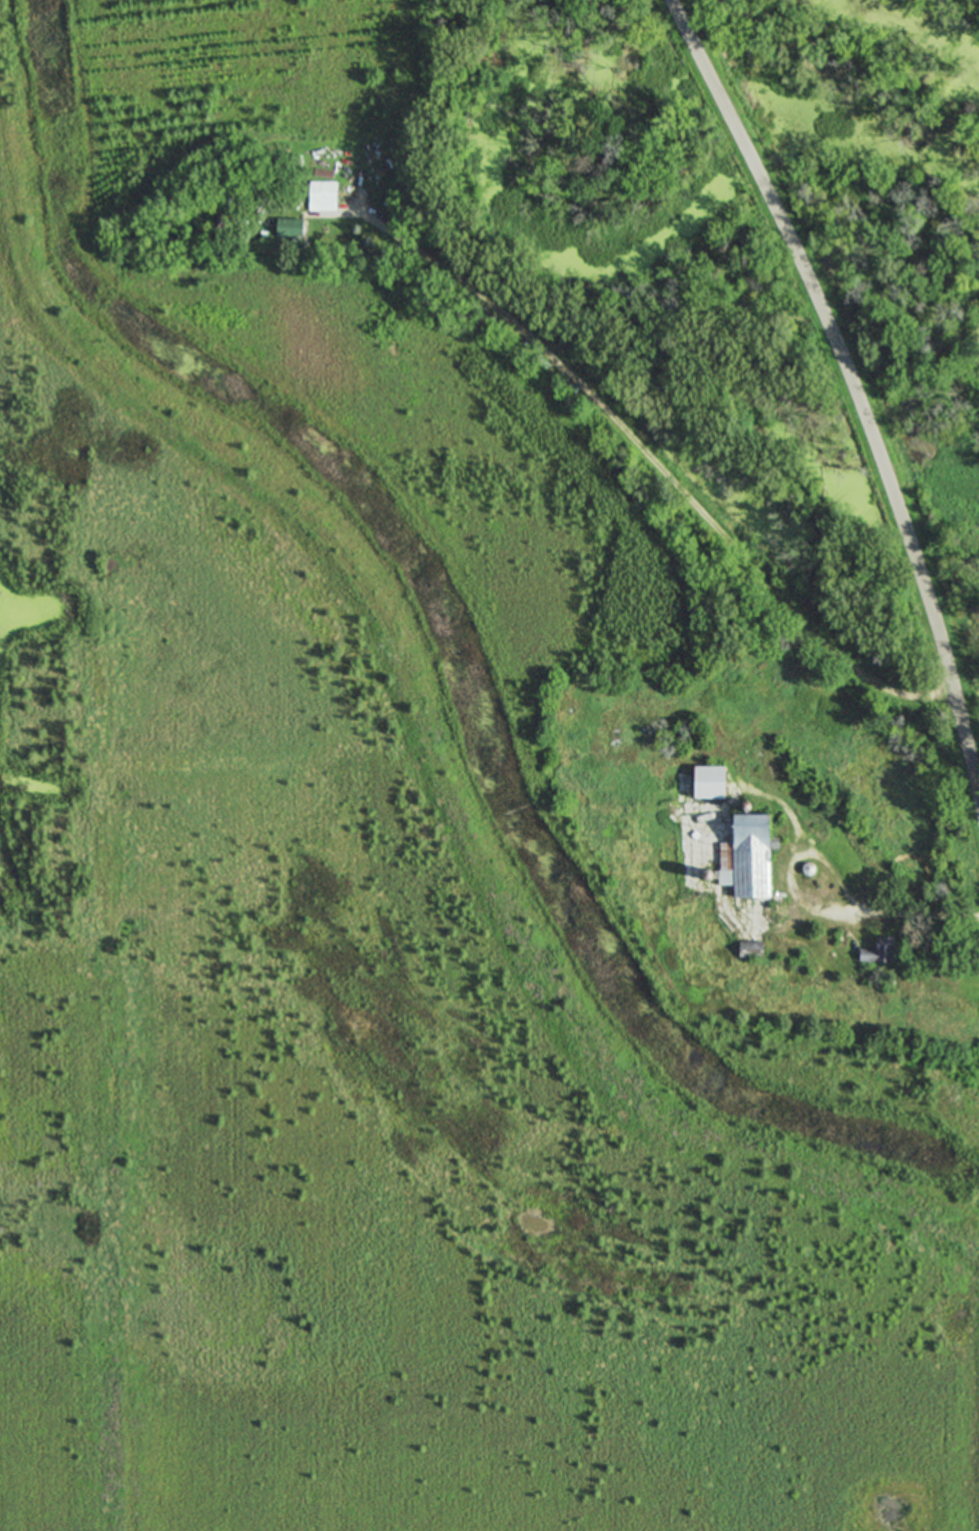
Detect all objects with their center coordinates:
building: (320, 192)
building: (290, 229)
road: (858, 389)
road: (638, 445)
building: (709, 781)
building: (752, 853)
road: (787, 874)
road: (911, 912)
building: (751, 946)
building: (878, 951)

